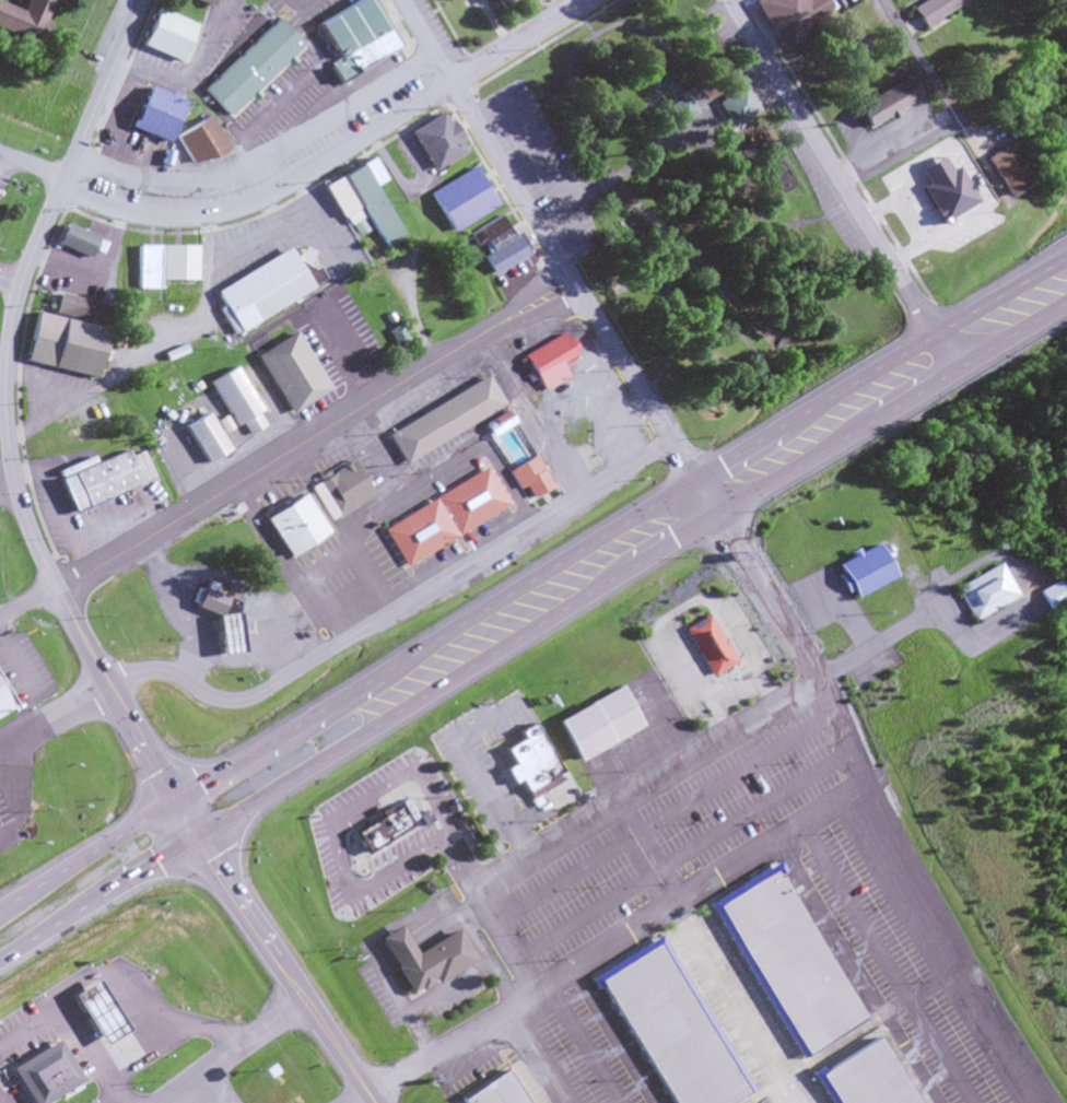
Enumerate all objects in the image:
building: (499, 0)
building: (203, 2)
building: (927, 10)
building: (790, 16)
building: (23, 21)
building: (347, 26)
building: (164, 34)
parking lot: (724, 34)
building: (852, 47)
building: (359, 55)
building: (250, 66)
building: (884, 101)
road: (490, 102)
building: (736, 103)
building: (673, 110)
building: (155, 113)
road: (953, 114)
building: (434, 139)
building: (200, 142)
road: (533, 143)
road: (332, 153)
road: (30, 166)
road: (833, 166)
building: (1004, 167)
parking lot: (541, 169)
building: (368, 172)
parking lot: (814, 183)
building: (339, 196)
building: (460, 198)
building: (370, 206)
road: (556, 206)
building: (485, 230)
building: (495, 239)
road: (544, 239)
building: (75, 240)
building: (502, 255)
building: (176, 262)
road: (1051, 263)
building: (146, 267)
road: (9, 284)
building: (265, 288)
building: (72, 309)
building: (65, 344)
road: (945, 352)
building: (547, 355)
building: (289, 371)
building: (174, 389)
building: (235, 401)
road: (3, 408)
building: (503, 418)
building: (442, 420)
building: (203, 436)
road: (289, 454)
building: (528, 476)
building: (97, 480)
road: (1, 482)
building: (338, 490)
building: (443, 516)
building: (300, 520)
building: (280, 532)
road: (602, 536)
building: (860, 568)
road: (630, 573)
road: (750, 579)
building: (976, 590)
building: (1042, 594)
building: (212, 603)
road: (394, 607)
building: (228, 631)
building: (708, 644)
building: (3, 701)
building: (596, 721)
road: (19, 739)
building: (527, 767)
building: (0, 821)
road: (183, 823)
building: (382, 826)
road: (86, 856)
road: (503, 865)
road: (927, 889)
road: (96, 902)
building: (423, 958)
road: (284, 972)
road: (207, 997)
building: (755, 1008)
building: (101, 1009)
building: (137, 1010)
road: (243, 1052)
building: (46, 1072)
building: (495, 1092)
road: (207, 1094)
road: (363, 1100)

